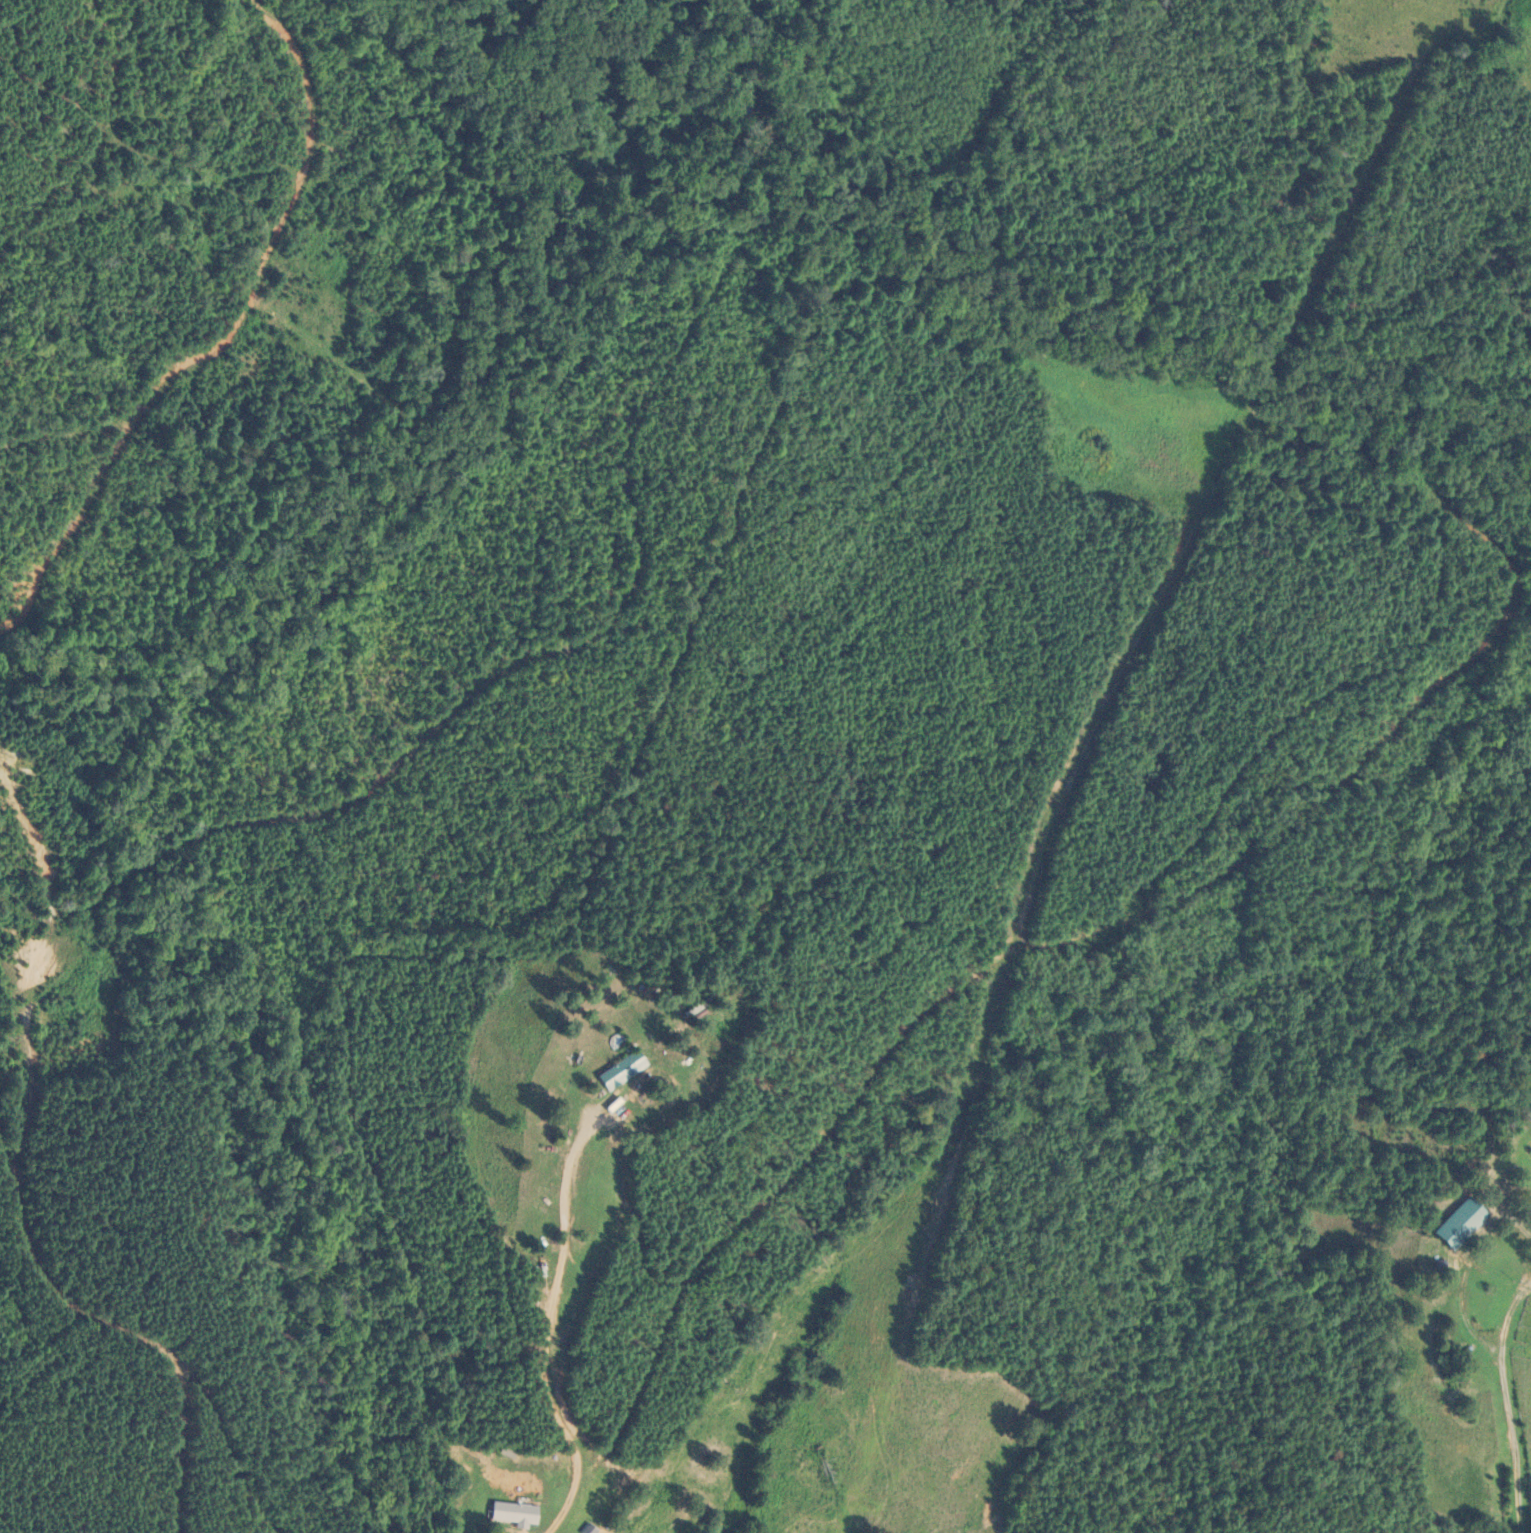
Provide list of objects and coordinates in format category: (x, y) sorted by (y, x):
building: (622, 1071)
building: (1459, 1231)
road: (548, 1323)
road: (1507, 1400)
building: (513, 1513)

